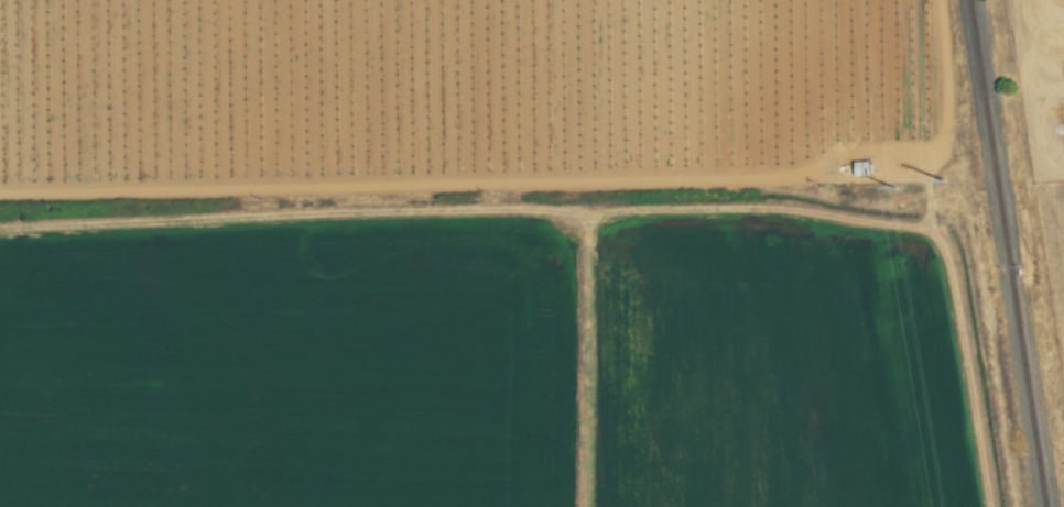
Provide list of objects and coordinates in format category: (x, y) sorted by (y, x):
power tower: (897, 201)
railway: (1014, 253)

